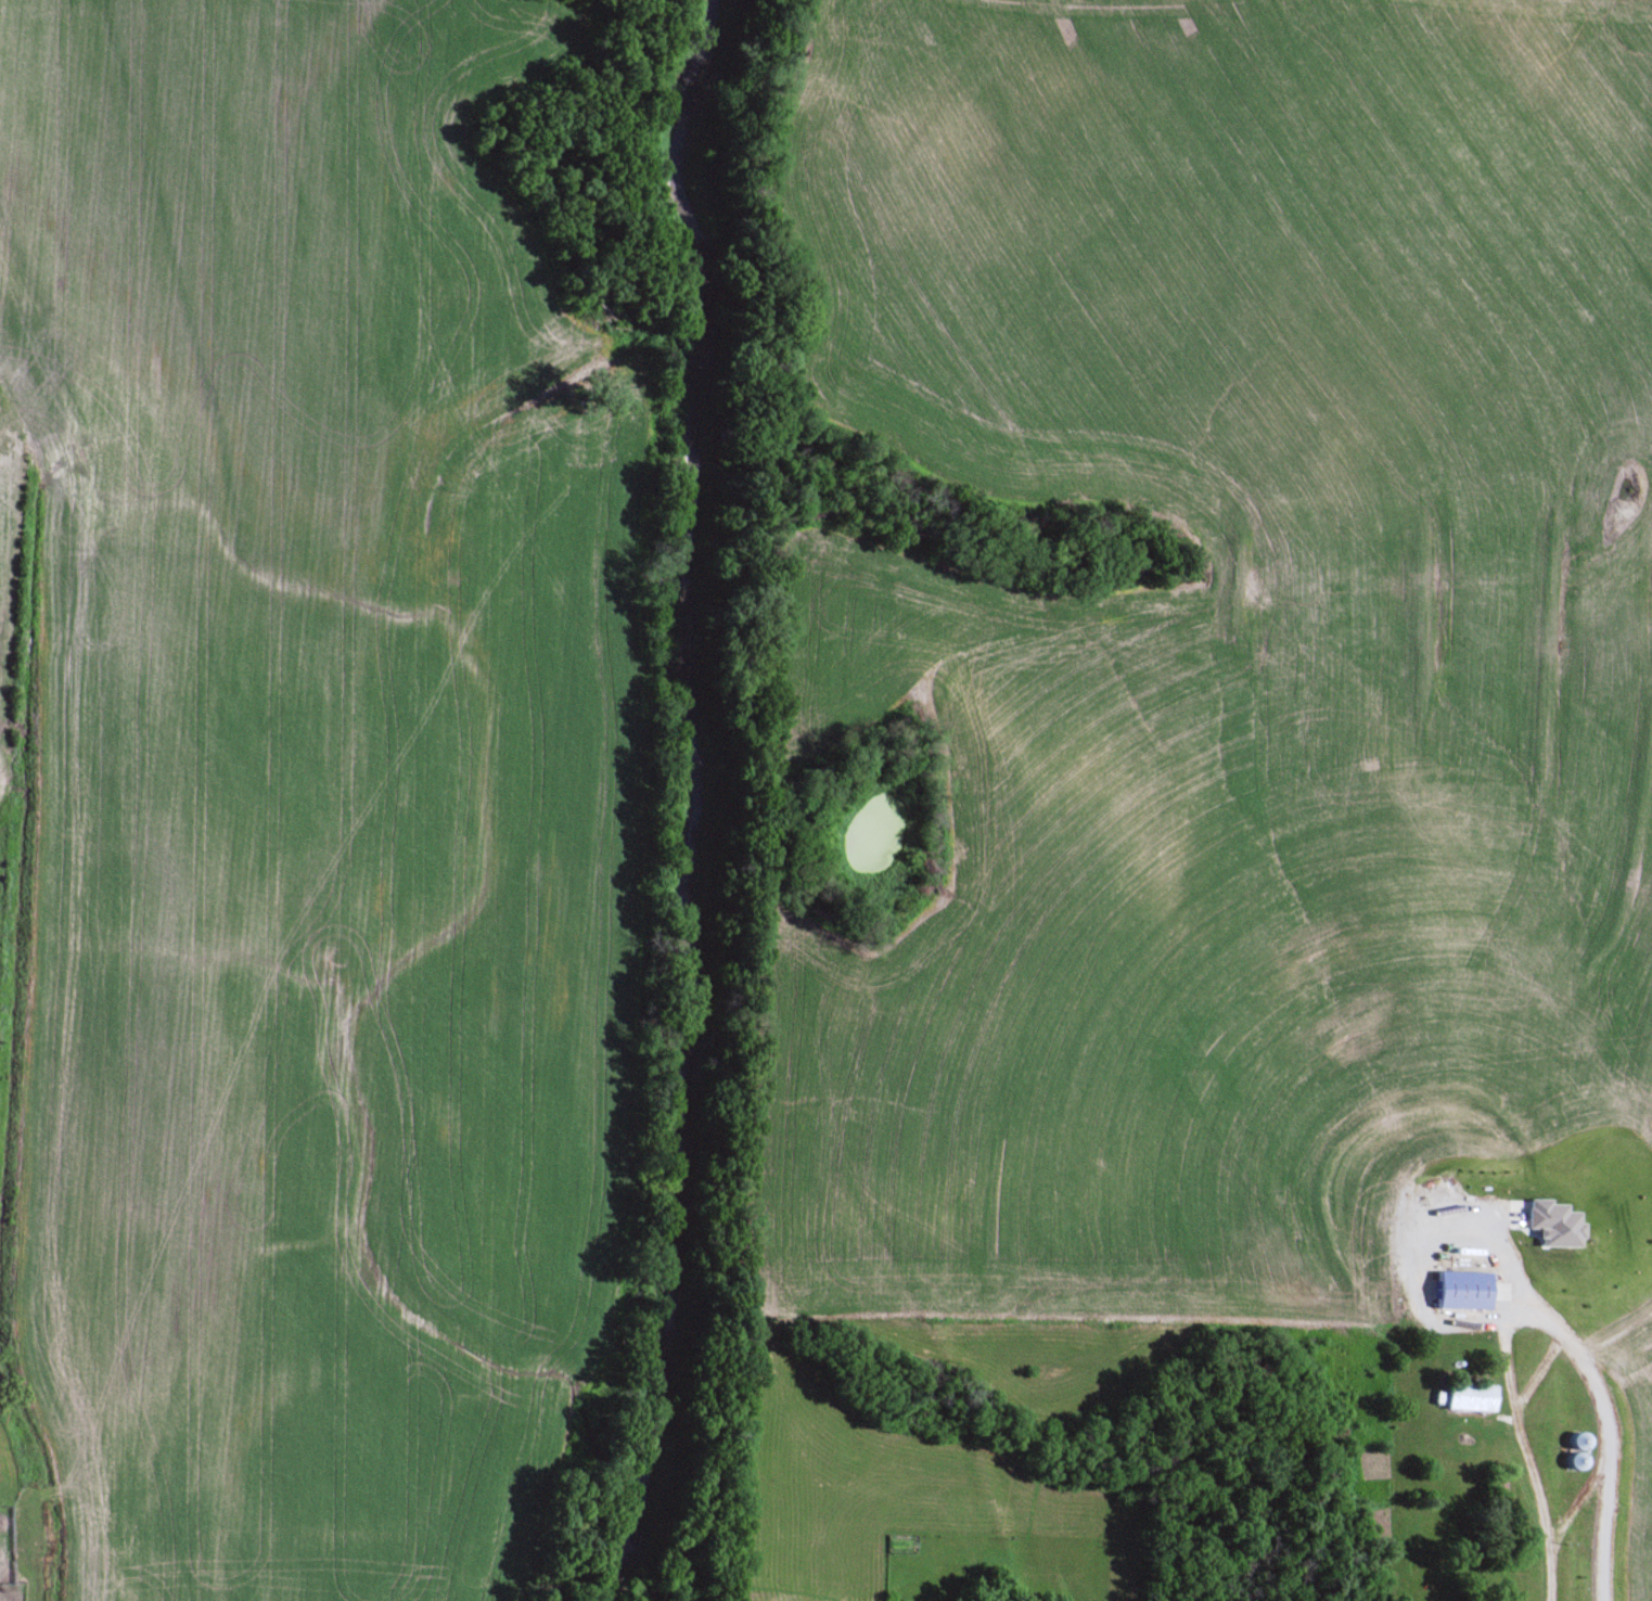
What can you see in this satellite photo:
building: (1460, 1288)
building: (1469, 1394)
road: (1606, 1434)
building: (1579, 1438)
building: (1575, 1459)

